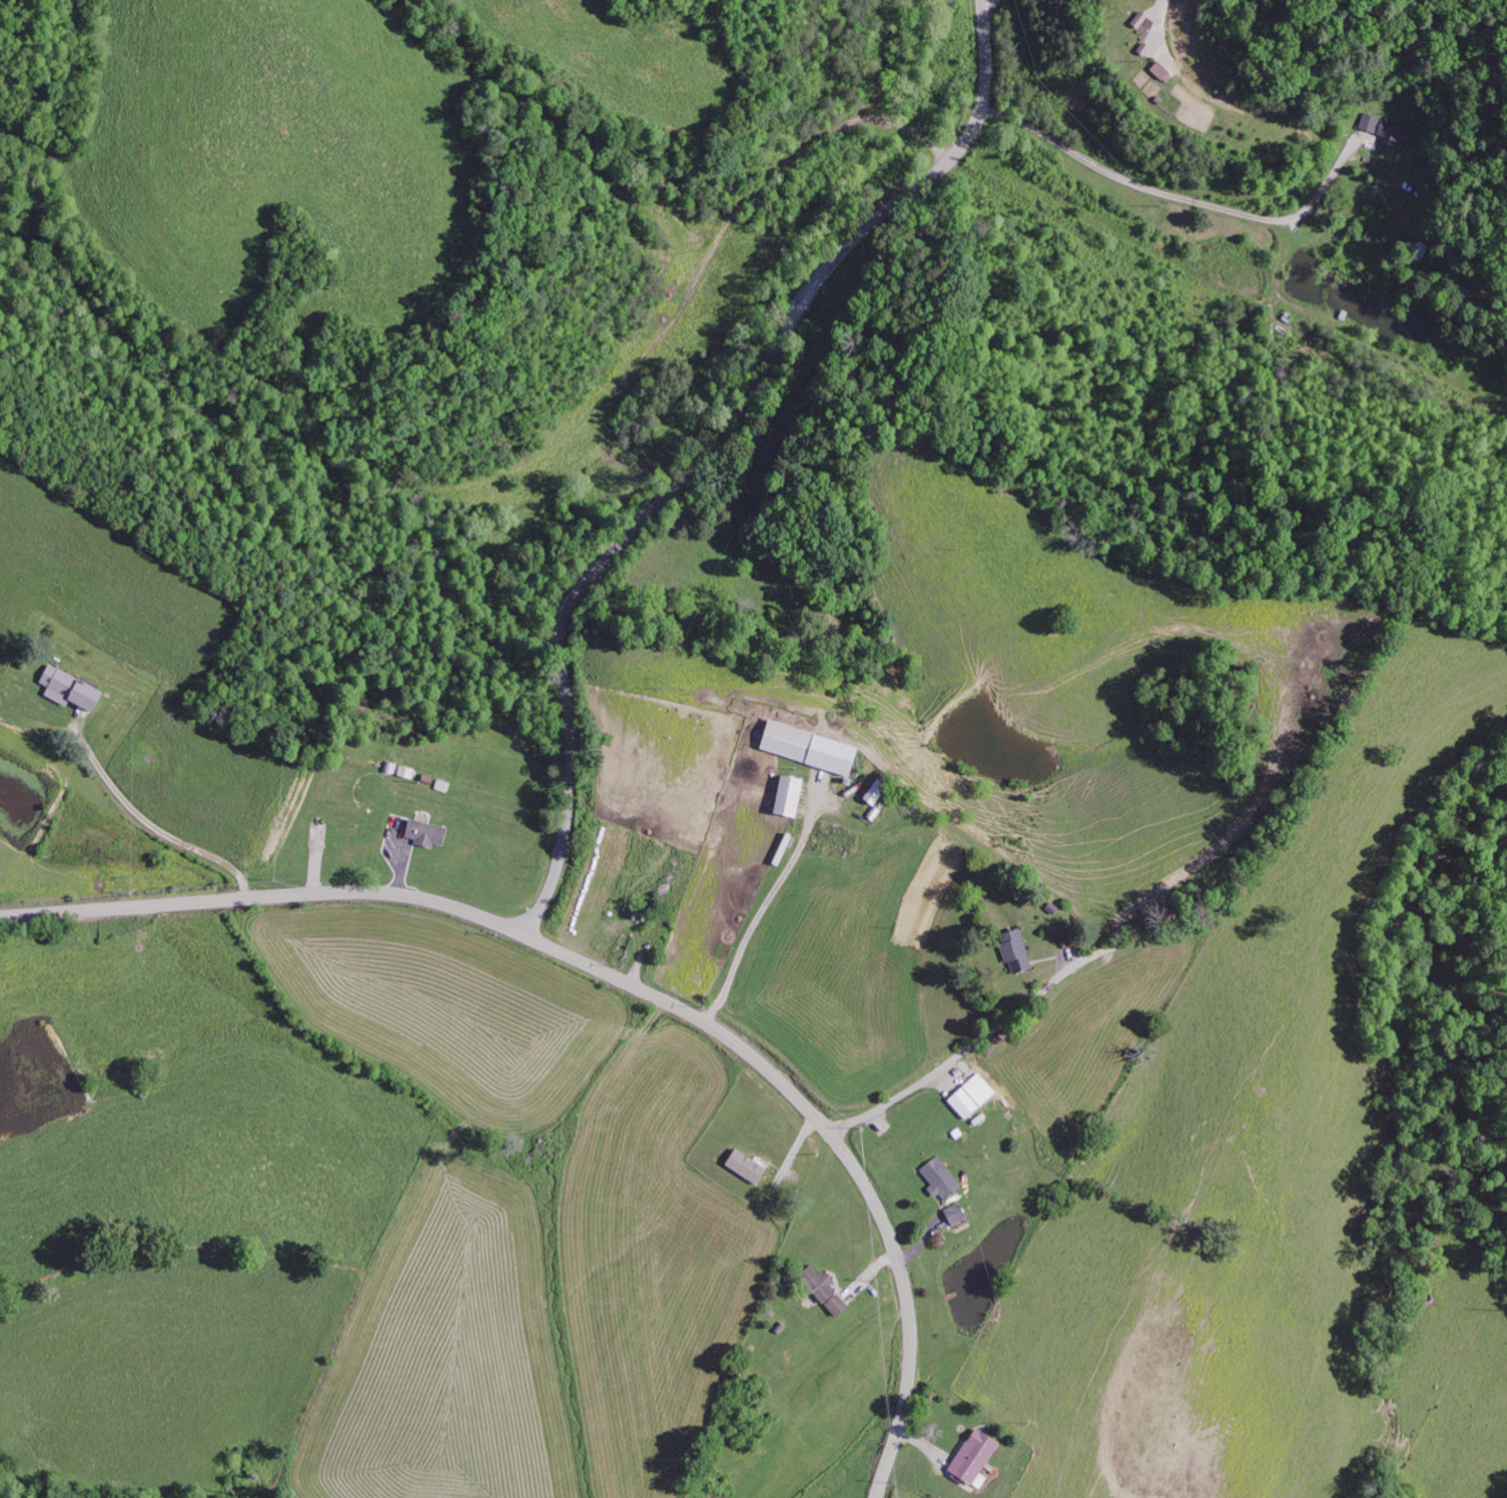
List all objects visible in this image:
building: (1368, 122)
road: (722, 454)
building: (65, 688)
building: (804, 746)
building: (784, 795)
building: (424, 832)
building: (780, 848)
building: (1012, 949)
road: (625, 982)
road: (971, 1044)
building: (971, 1095)
building: (742, 1165)
building: (939, 1178)
building: (953, 1213)
building: (821, 1289)
building: (972, 1458)

